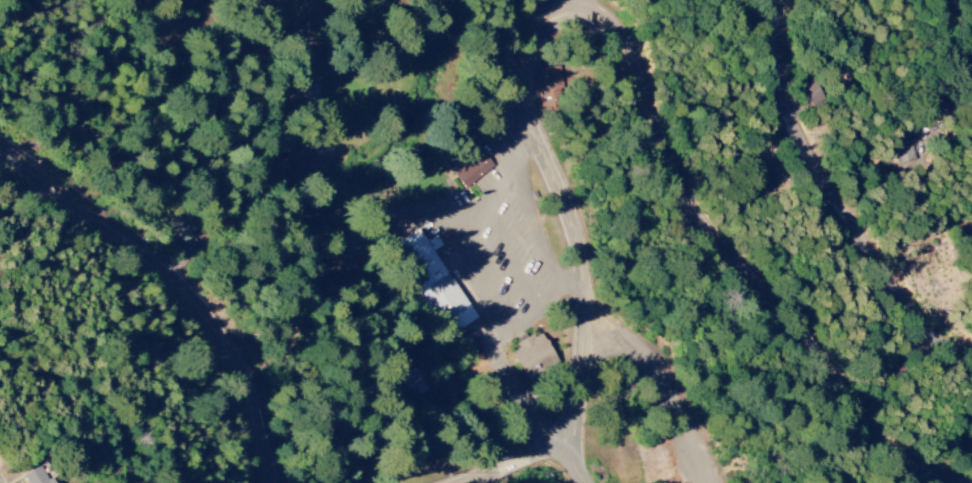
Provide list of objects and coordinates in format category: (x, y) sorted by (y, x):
road: (577, 5)
building: (550, 82)
building: (812, 92)
building: (472, 170)
park: (258, 177)
road: (836, 193)
building: (167, 227)
road: (475, 244)
road: (744, 264)
road: (184, 281)
building: (438, 284)
building: (533, 356)
building: (407, 382)
road: (522, 463)
building: (37, 477)
road: (0, 481)

